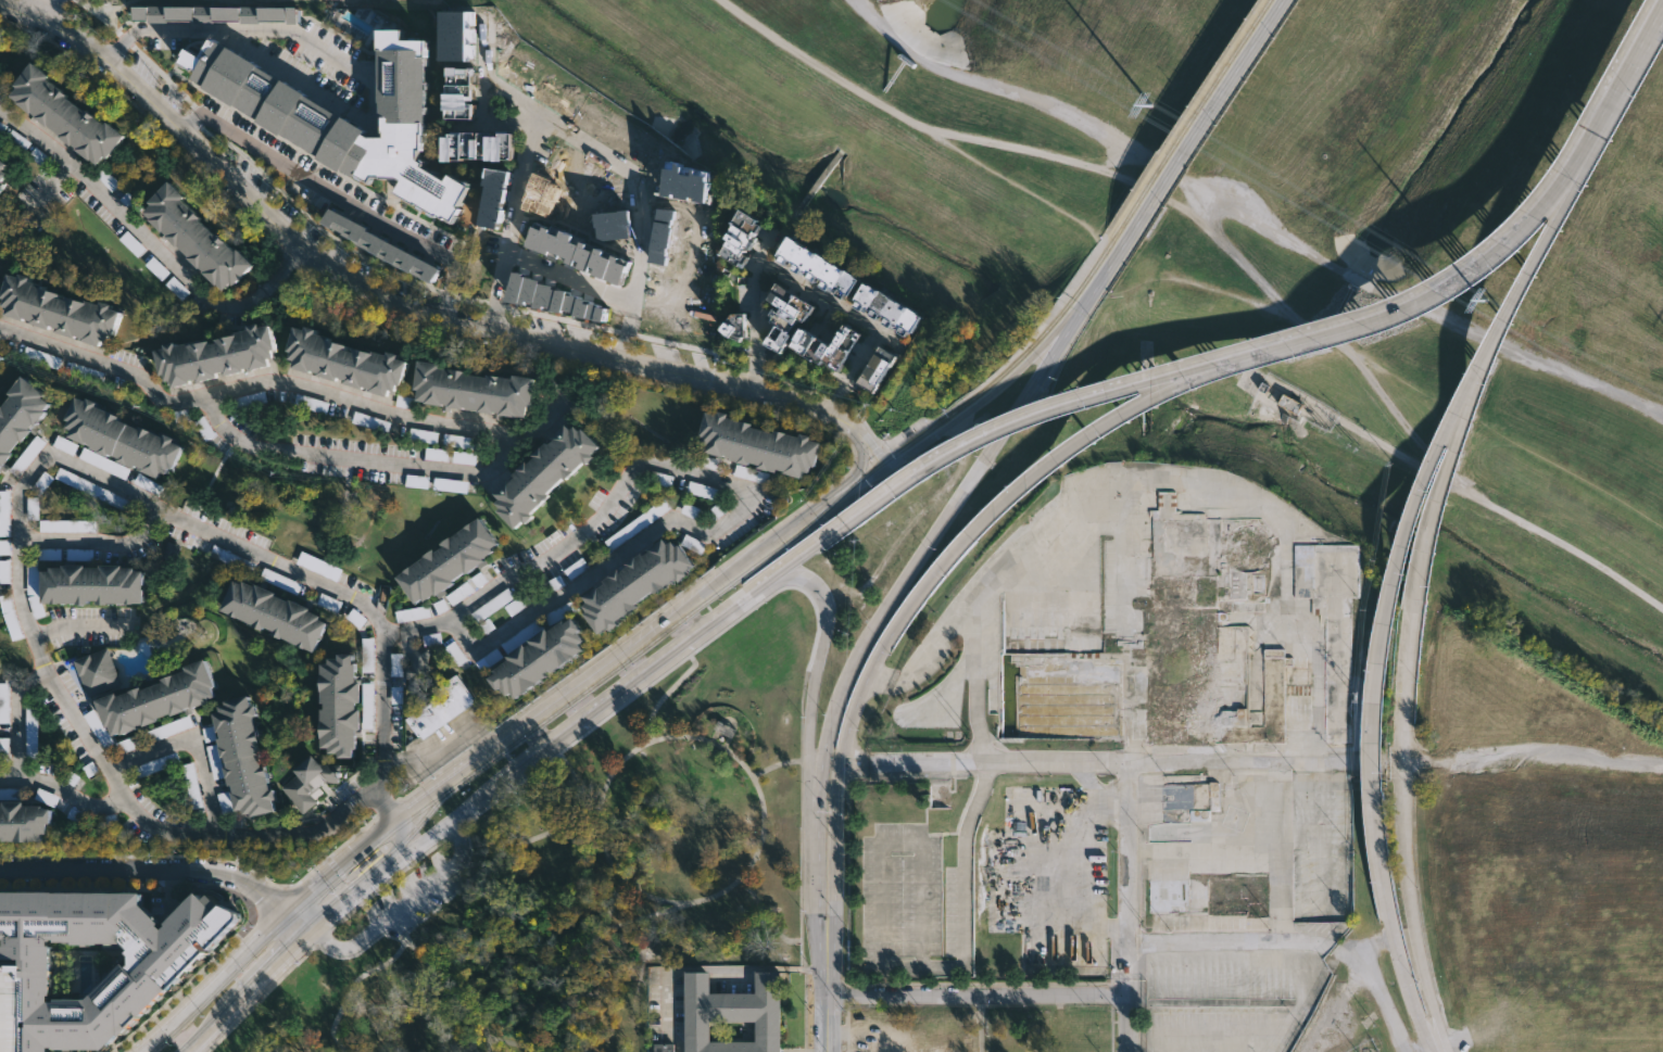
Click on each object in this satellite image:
road: (35, 8)
building: (217, 14)
road: (338, 56)
road: (817, 63)
building: (451, 89)
road: (1617, 94)
power tower: (1156, 105)
railway: (1197, 111)
building: (72, 113)
building: (348, 113)
road: (1207, 114)
building: (468, 147)
road: (1116, 160)
road: (616, 162)
building: (4, 170)
road: (1004, 177)
road: (1126, 180)
road: (48, 187)
road: (339, 198)
road: (1194, 198)
building: (495, 199)
road: (1252, 217)
road: (508, 224)
park: (1271, 235)
building: (187, 236)
building: (736, 239)
road: (151, 240)
building: (382, 245)
building: (583, 254)
building: (812, 265)
road: (1108, 265)
road: (566, 279)
road: (802, 287)
building: (177, 288)
road: (1230, 293)
road: (1424, 295)
road: (383, 300)
building: (556, 302)
power tower: (1487, 302)
building: (883, 307)
building: (784, 308)
building: (58, 309)
building: (739, 328)
railway: (1045, 329)
road: (1322, 334)
building: (829, 346)
building: (214, 354)
building: (344, 362)
road: (1375, 364)
building: (872, 371)
road: (256, 381)
building: (474, 391)
road: (1297, 398)
road: (1070, 402)
road: (1395, 411)
building: (23, 418)
road: (1098, 430)
building: (119, 438)
building: (65, 444)
building: (759, 445)
road: (873, 446)
railway: (899, 447)
building: (104, 462)
road: (386, 462)
road: (1451, 466)
building: (542, 473)
road: (849, 473)
road: (718, 479)
building: (78, 482)
road: (1422, 495)
road: (1502, 509)
building: (4, 514)
building: (637, 523)
building: (67, 525)
road: (794, 525)
road: (95, 543)
road: (821, 543)
building: (693, 544)
building: (442, 561)
building: (318, 566)
building: (4, 571)
building: (96, 584)
building: (633, 584)
road: (18, 587)
railway: (701, 604)
building: (36, 606)
building: (413, 613)
building: (272, 614)
building: (10, 617)
road: (731, 622)
road: (877, 625)
road: (81, 626)
road: (816, 629)
building: (367, 655)
road: (817, 658)
building: (534, 659)
road: (652, 667)
building: (416, 668)
building: (93, 672)
building: (0, 690)
road: (663, 694)
road: (622, 702)
building: (144, 704)
building: (335, 705)
road: (380, 705)
building: (367, 706)
building: (440, 707)
building: (129, 744)
road: (437, 744)
road: (646, 745)
road: (192, 746)
road: (841, 746)
building: (3, 748)
building: (32, 750)
building: (243, 757)
road: (773, 765)
road: (1533, 765)
road: (1120, 766)
road: (516, 768)
road: (20, 770)
road: (577, 781)
road: (446, 783)
building: (310, 784)
building: (192, 785)
building: (2, 794)
building: (47, 797)
road: (386, 801)
road: (454, 814)
road: (801, 820)
building: (26, 823)
road: (1404, 833)
road: (416, 844)
road: (433, 844)
road: (395, 845)
road: (493, 859)
road: (341, 865)
road: (151, 866)
railway: (357, 876)
park: (583, 877)
road: (1135, 880)
road: (349, 885)
road: (350, 897)
road: (407, 902)
road: (613, 902)
building: (50, 913)
railway: (295, 913)
road: (765, 914)
railway: (312, 917)
road: (301, 918)
building: (149, 925)
road: (1226, 940)
road: (362, 948)
road: (1376, 948)
road: (1395, 948)
road: (396, 950)
road: (596, 960)
road: (281, 961)
road: (882, 964)
road: (701, 967)
road: (214, 981)
road: (1384, 991)
road: (450, 993)
road: (804, 996)
road: (980, 996)
road: (344, 1003)
building: (732, 1013)
road: (217, 1023)
road: (1133, 1023)
road: (980, 1024)
road: (827, 1026)
road: (1268, 1034)
road: (1458, 1038)
road: (1252, 1042)
road: (516, 1043)
road: (1171, 1043)
building: (664, 1047)

